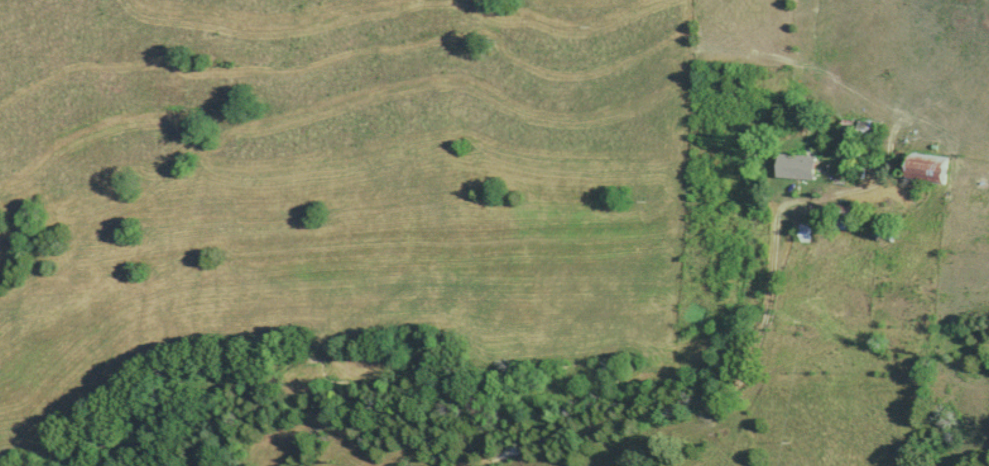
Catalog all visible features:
building: (794, 165)
road: (686, 397)

